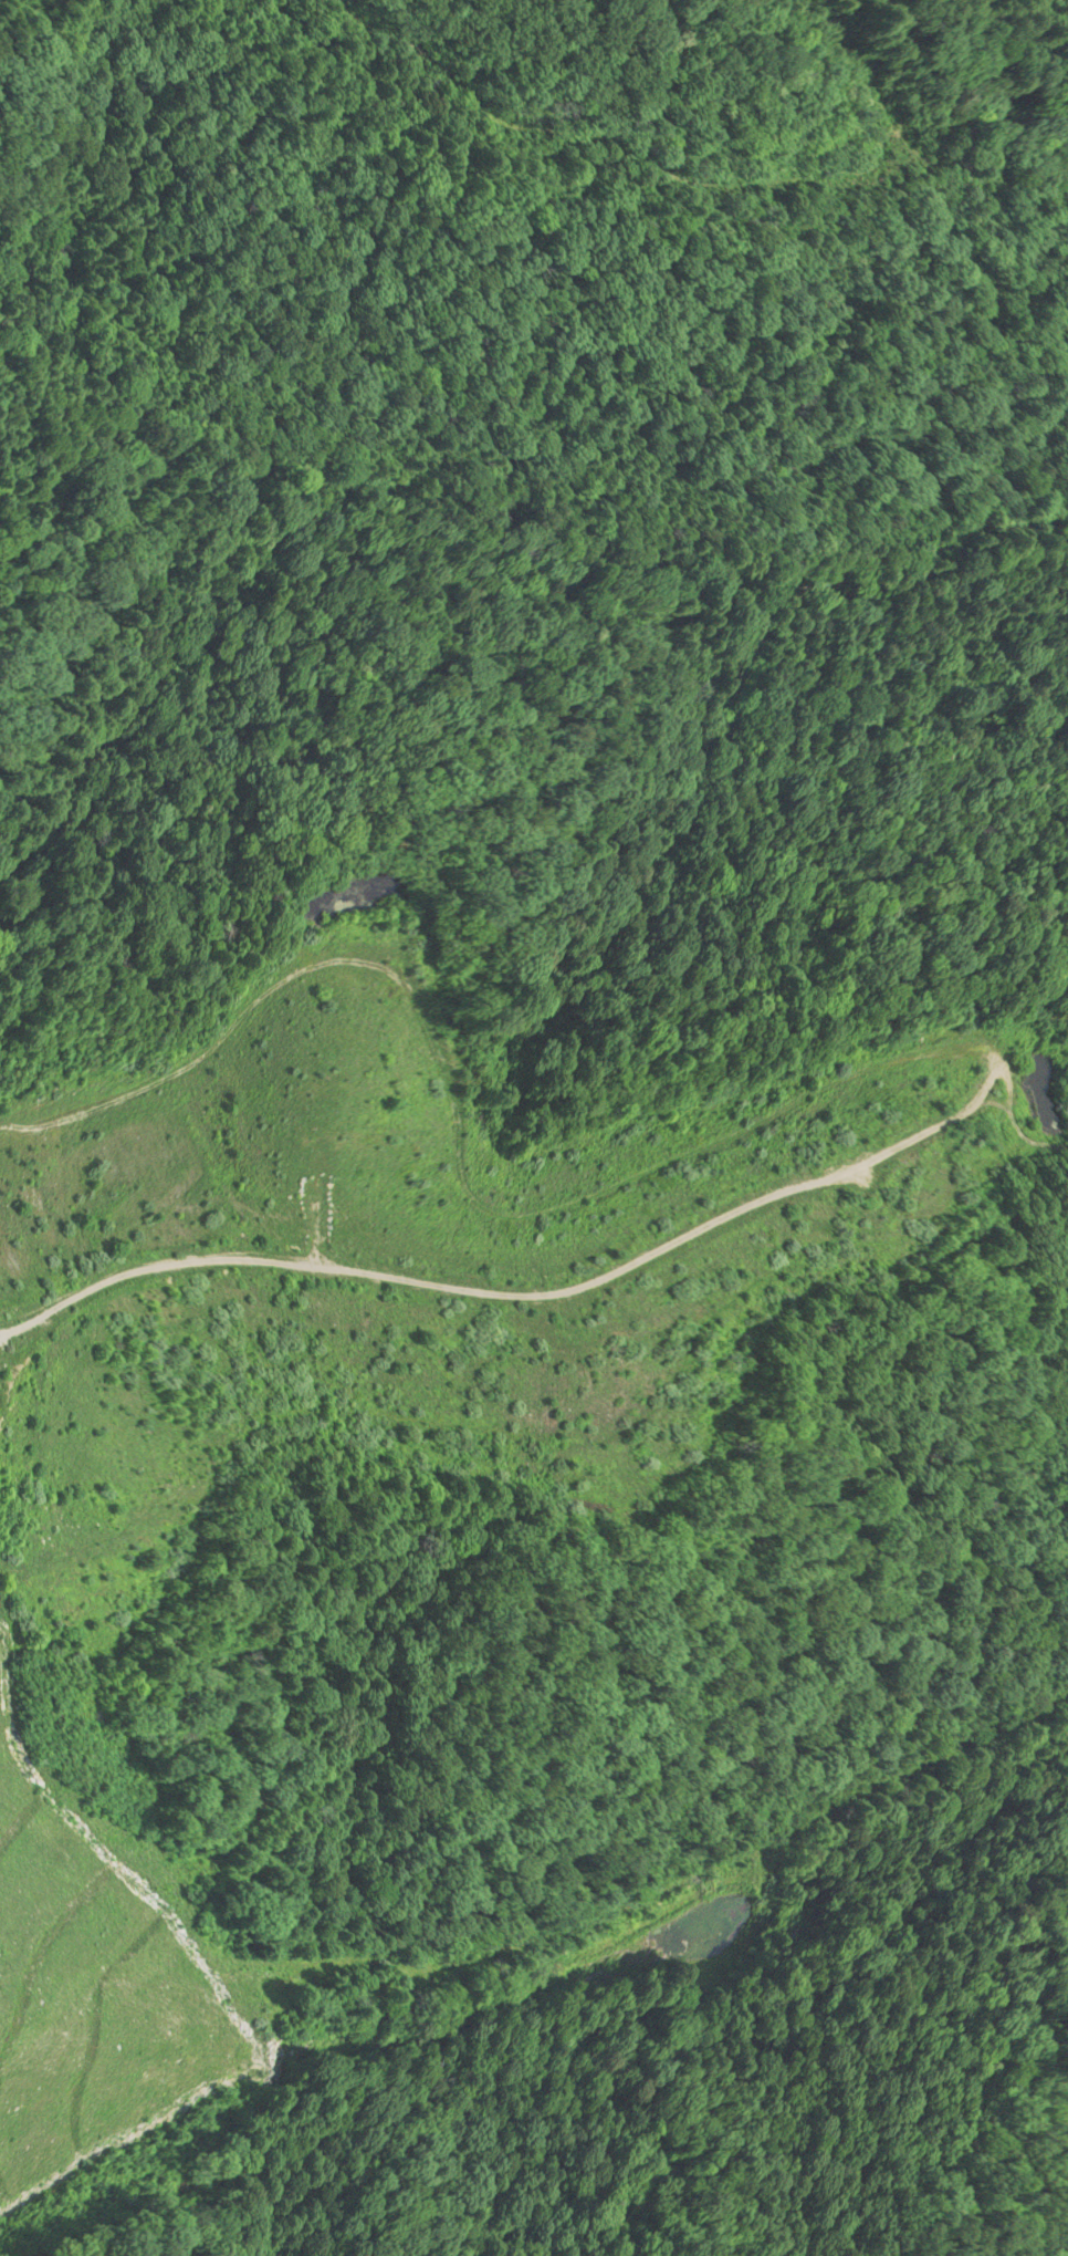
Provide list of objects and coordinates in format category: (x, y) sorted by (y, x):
quarry: (463, 1289)

